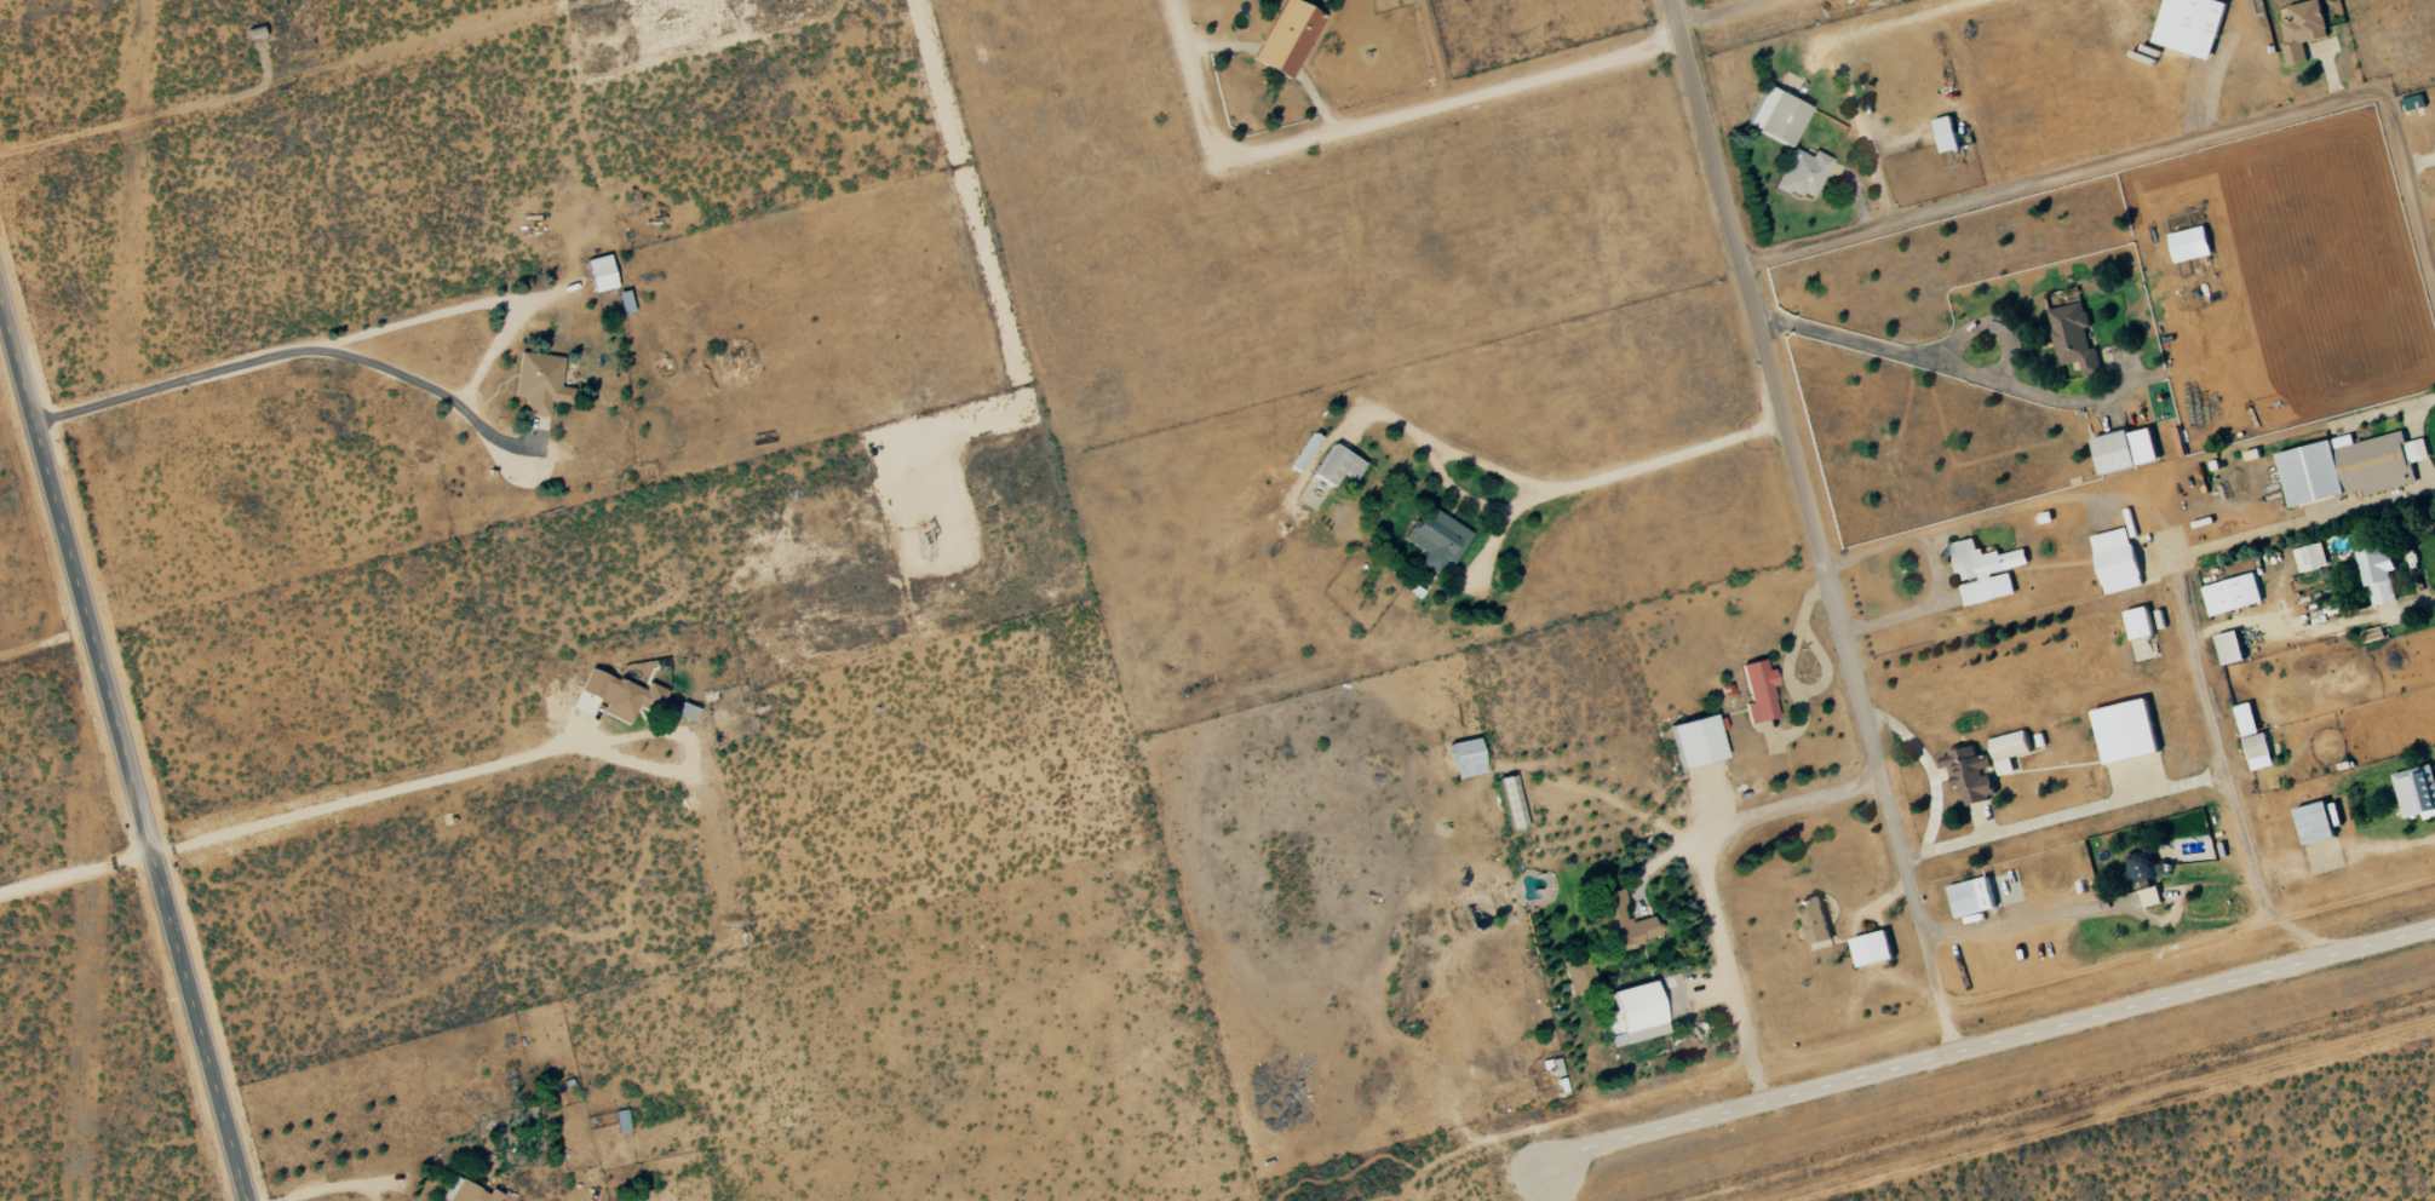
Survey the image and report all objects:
road: (1715, 15)
building: (2190, 25)
building: (2303, 29)
building: (1287, 38)
building: (2413, 102)
building: (1778, 116)
road: (1368, 126)
building: (1946, 134)
road: (2150, 153)
building: (1803, 173)
building: (2190, 243)
building: (601, 274)
building: (625, 303)
building: (2074, 337)
road: (1934, 362)
building: (540, 383)
building: (1305, 452)
building: (2115, 452)
building: (1338, 465)
building: (2350, 466)
road: (1538, 498)
road: (1810, 525)
building: (1437, 539)
building: (2311, 557)
building: (2118, 559)
building: (1986, 570)
building: (2378, 571)
road: (2176, 582)
building: (2232, 593)
building: (2140, 622)
building: (2230, 647)
building: (1759, 691)
building: (621, 695)
building: (586, 703)
building: (687, 712)
building: (2246, 718)
building: (2126, 730)
building: (1698, 741)
building: (2010, 746)
building: (2258, 751)
road: (124, 753)
road: (499, 757)
building: (1466, 758)
building: (1969, 774)
building: (2417, 791)
building: (1512, 803)
road: (2064, 815)
building: (2315, 822)
road: (74, 855)
road: (1705, 879)
building: (2152, 896)
building: (1972, 897)
road: (2101, 907)
building: (1815, 920)
building: (1623, 923)
road: (2223, 925)
building: (1873, 948)
building: (1579, 973)
building: (1633, 1016)
road: (1988, 1042)
building: (621, 1121)
building: (467, 1193)
building: (634, 1200)

